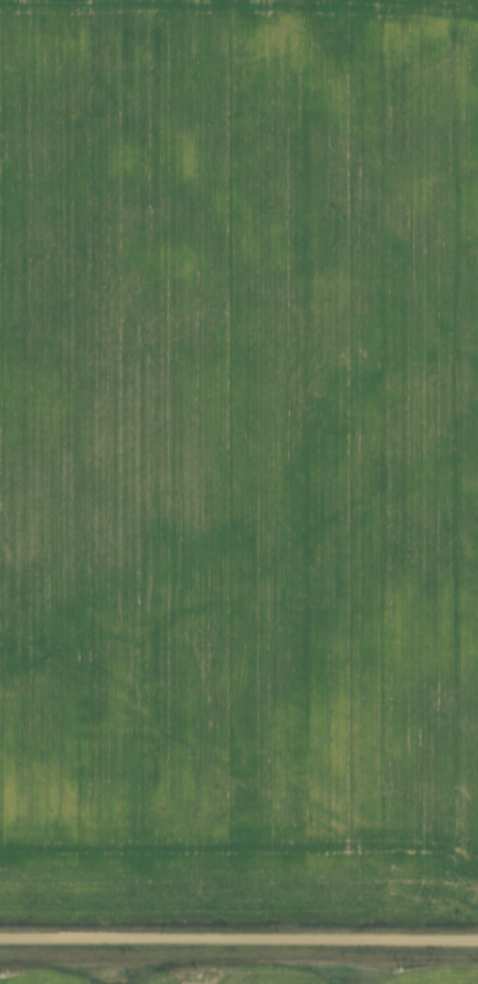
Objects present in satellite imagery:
road: (239, 936)

